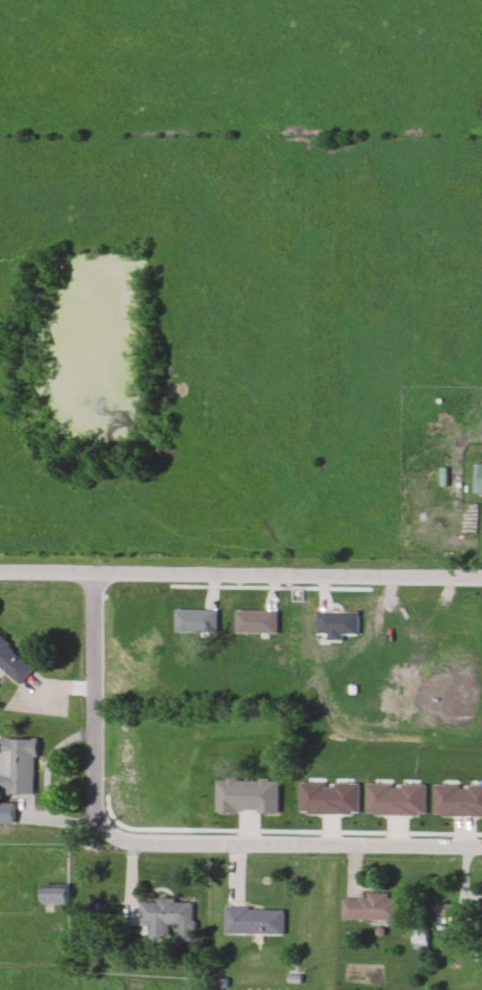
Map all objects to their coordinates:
building: (478, 478)
road: (45, 571)
road: (286, 574)
building: (255, 618)
building: (196, 619)
building: (14, 664)
road: (90, 701)
building: (17, 767)
building: (247, 793)
building: (331, 796)
building: (398, 796)
building: (458, 798)
road: (289, 847)
building: (56, 894)
building: (370, 909)
building: (446, 916)
building: (167, 919)
building: (254, 922)
building: (421, 938)

